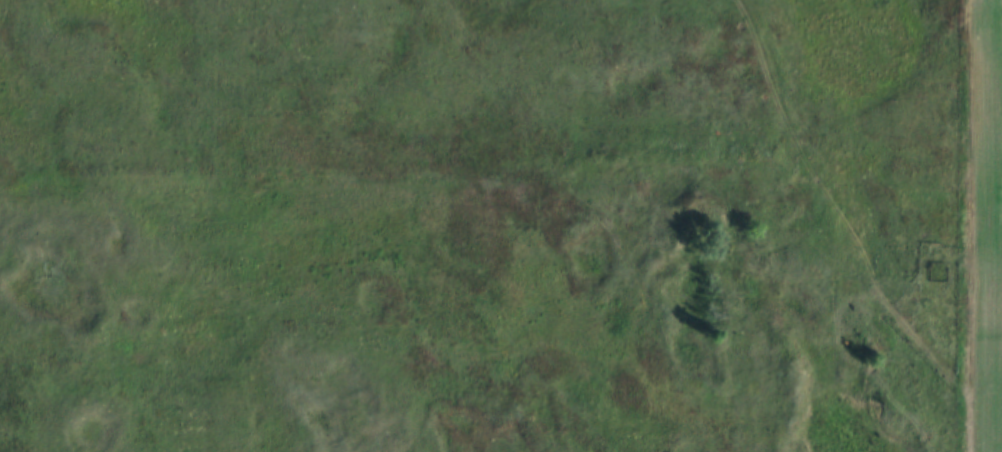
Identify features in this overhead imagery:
road: (854, 228)

